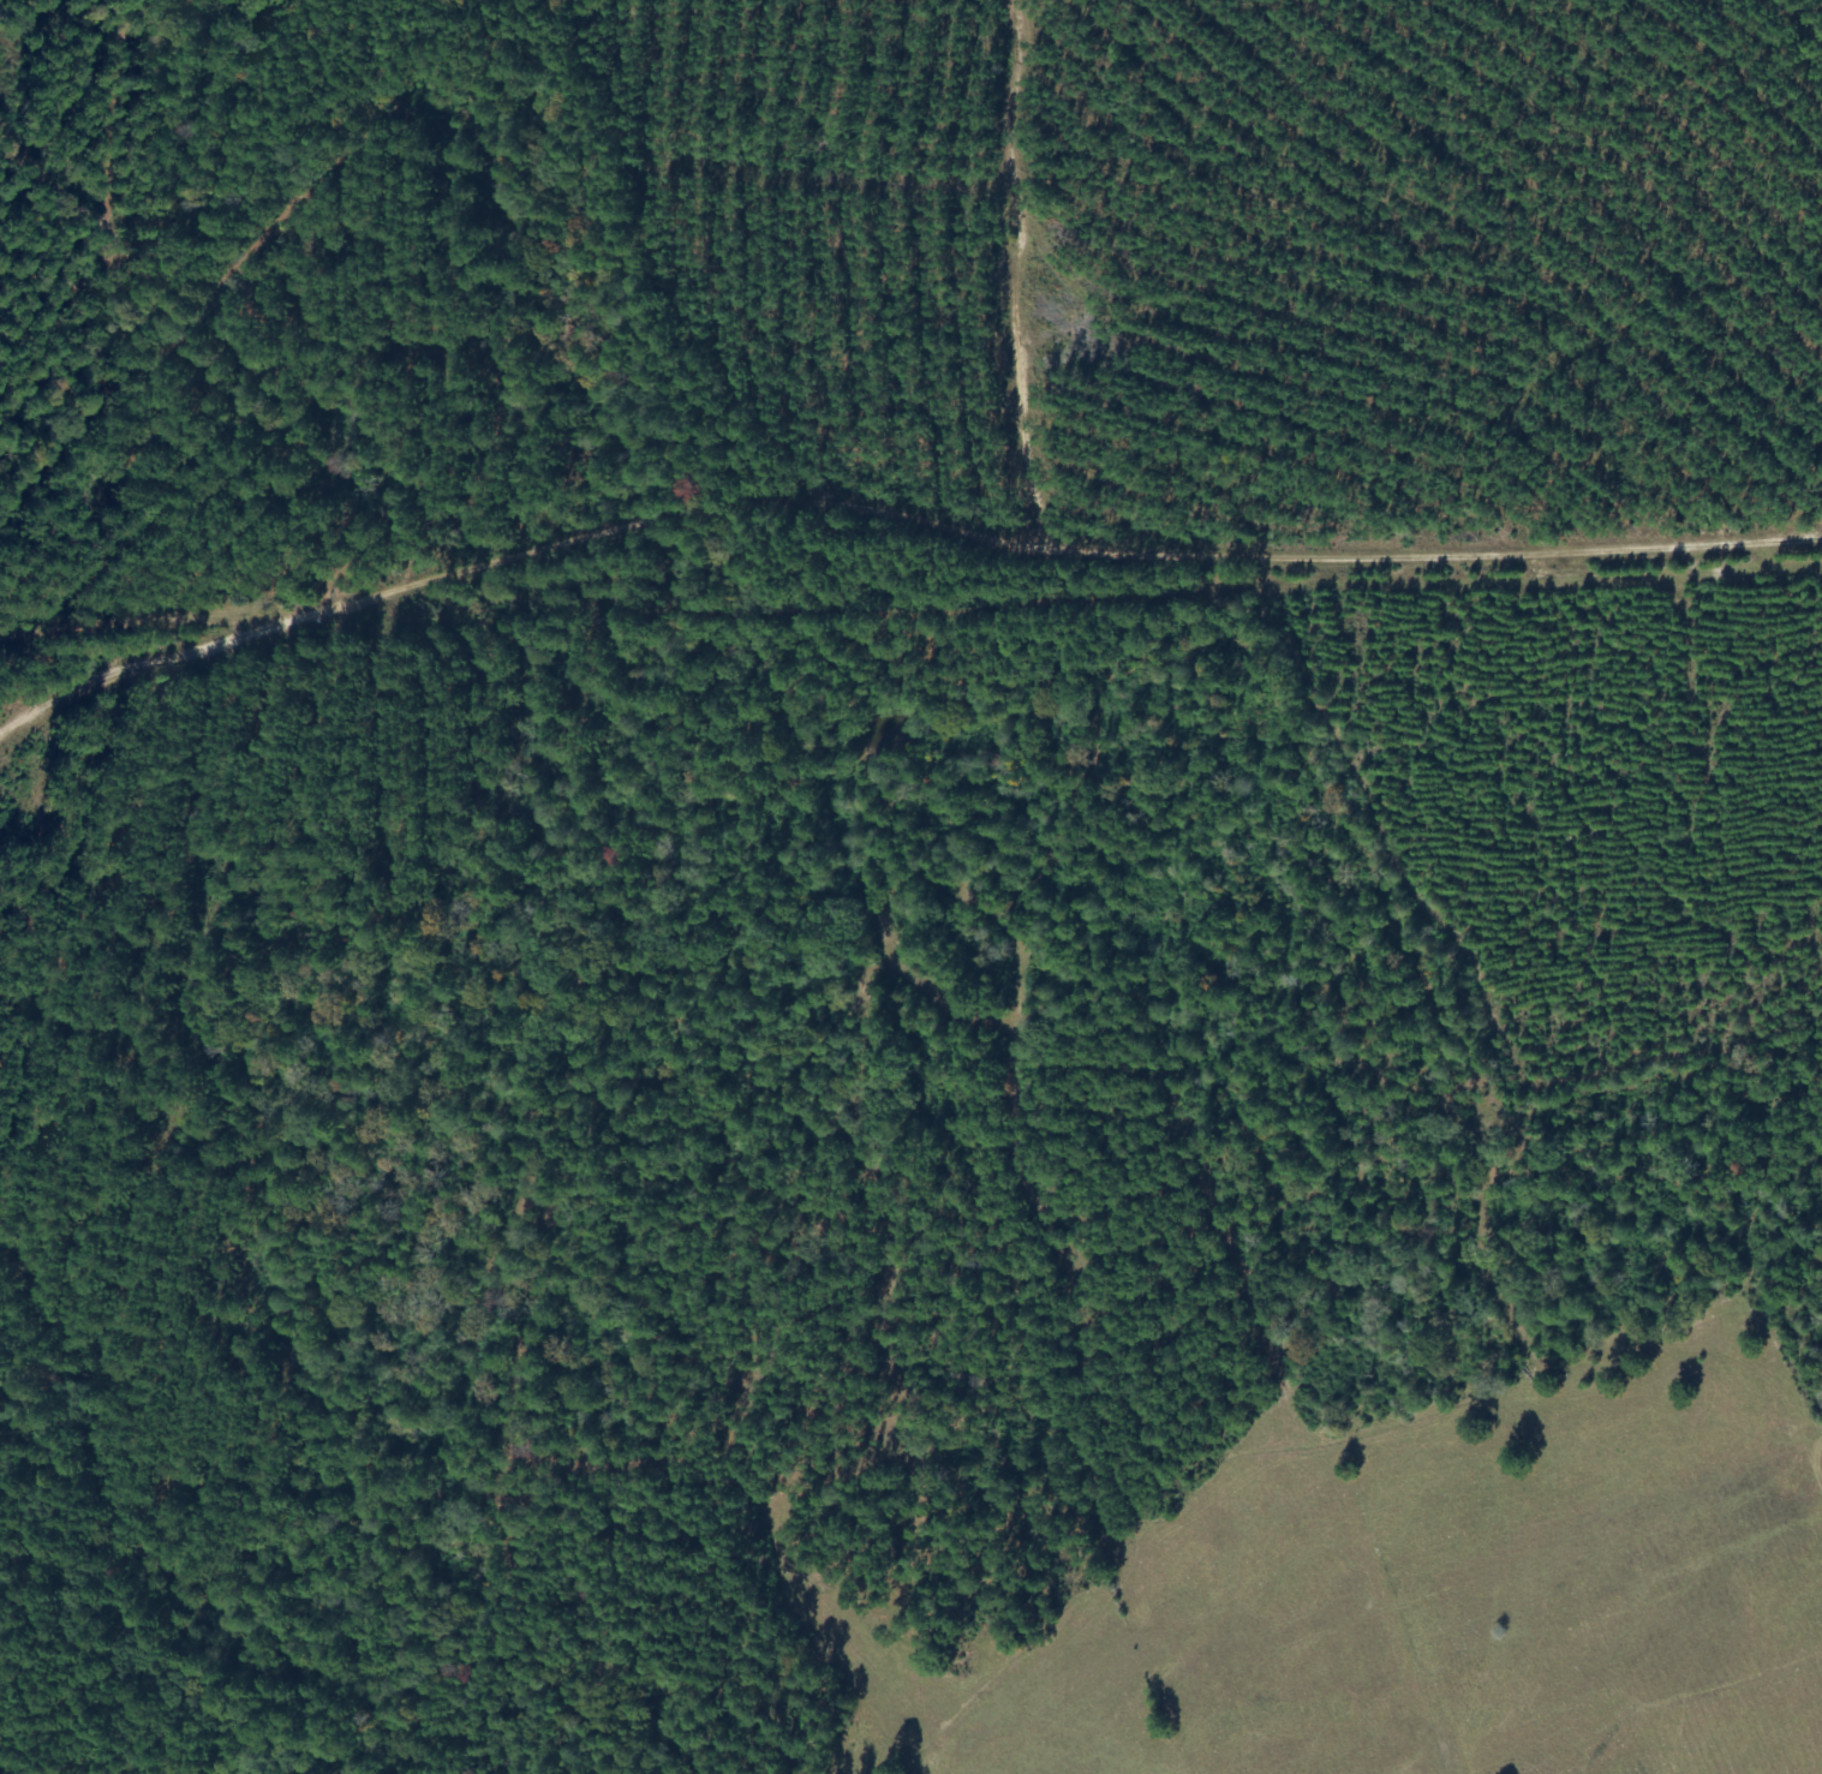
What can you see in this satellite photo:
road: (892, 492)

